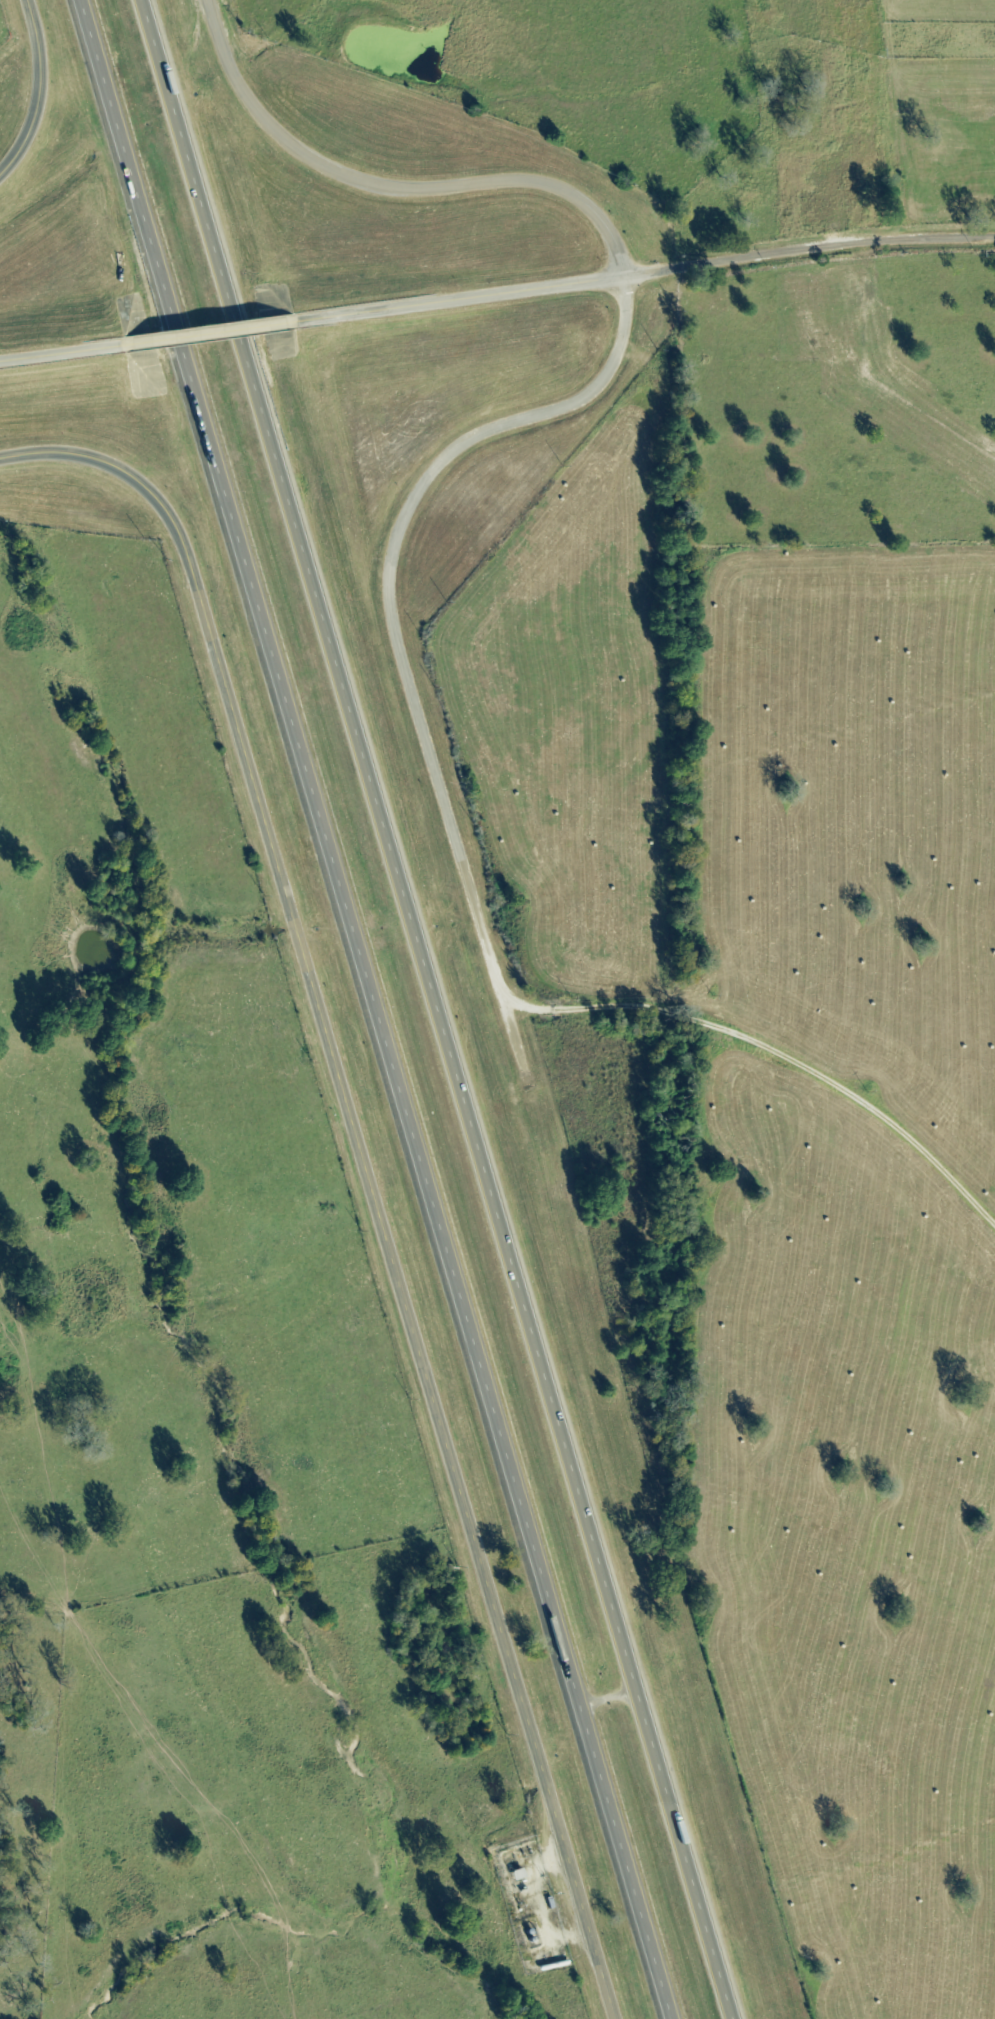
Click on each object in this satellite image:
road: (37, 90)
road: (648, 274)
road: (203, 338)
road: (51, 356)
road: (527, 419)
road: (373, 1010)
road: (430, 1010)
road: (771, 1047)
road: (364, 1174)
road: (538, 1903)

